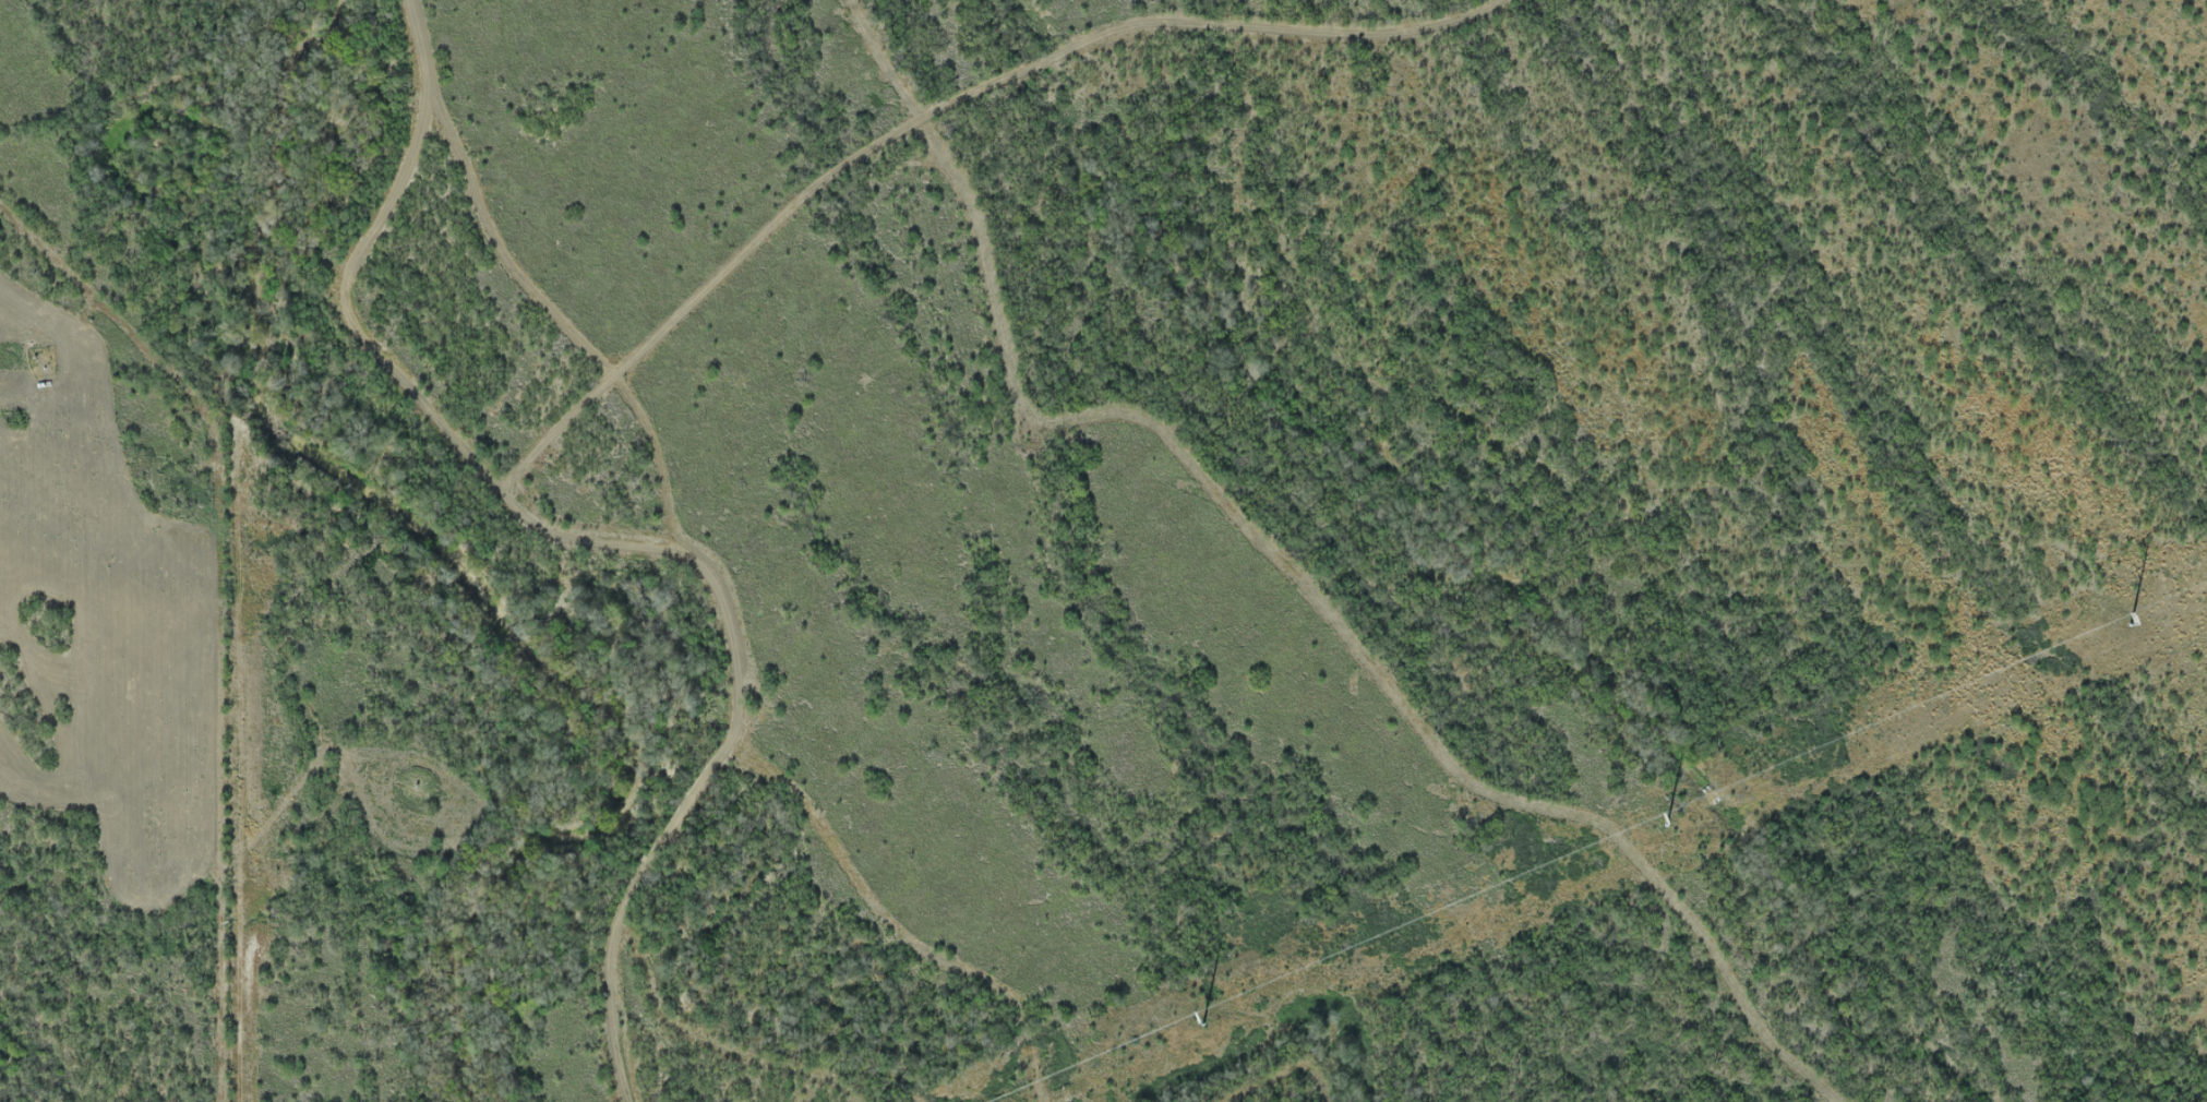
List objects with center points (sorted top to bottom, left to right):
river: (472, 582)
power tower: (2126, 620)
power tower: (1664, 820)
power tower: (1198, 1017)

